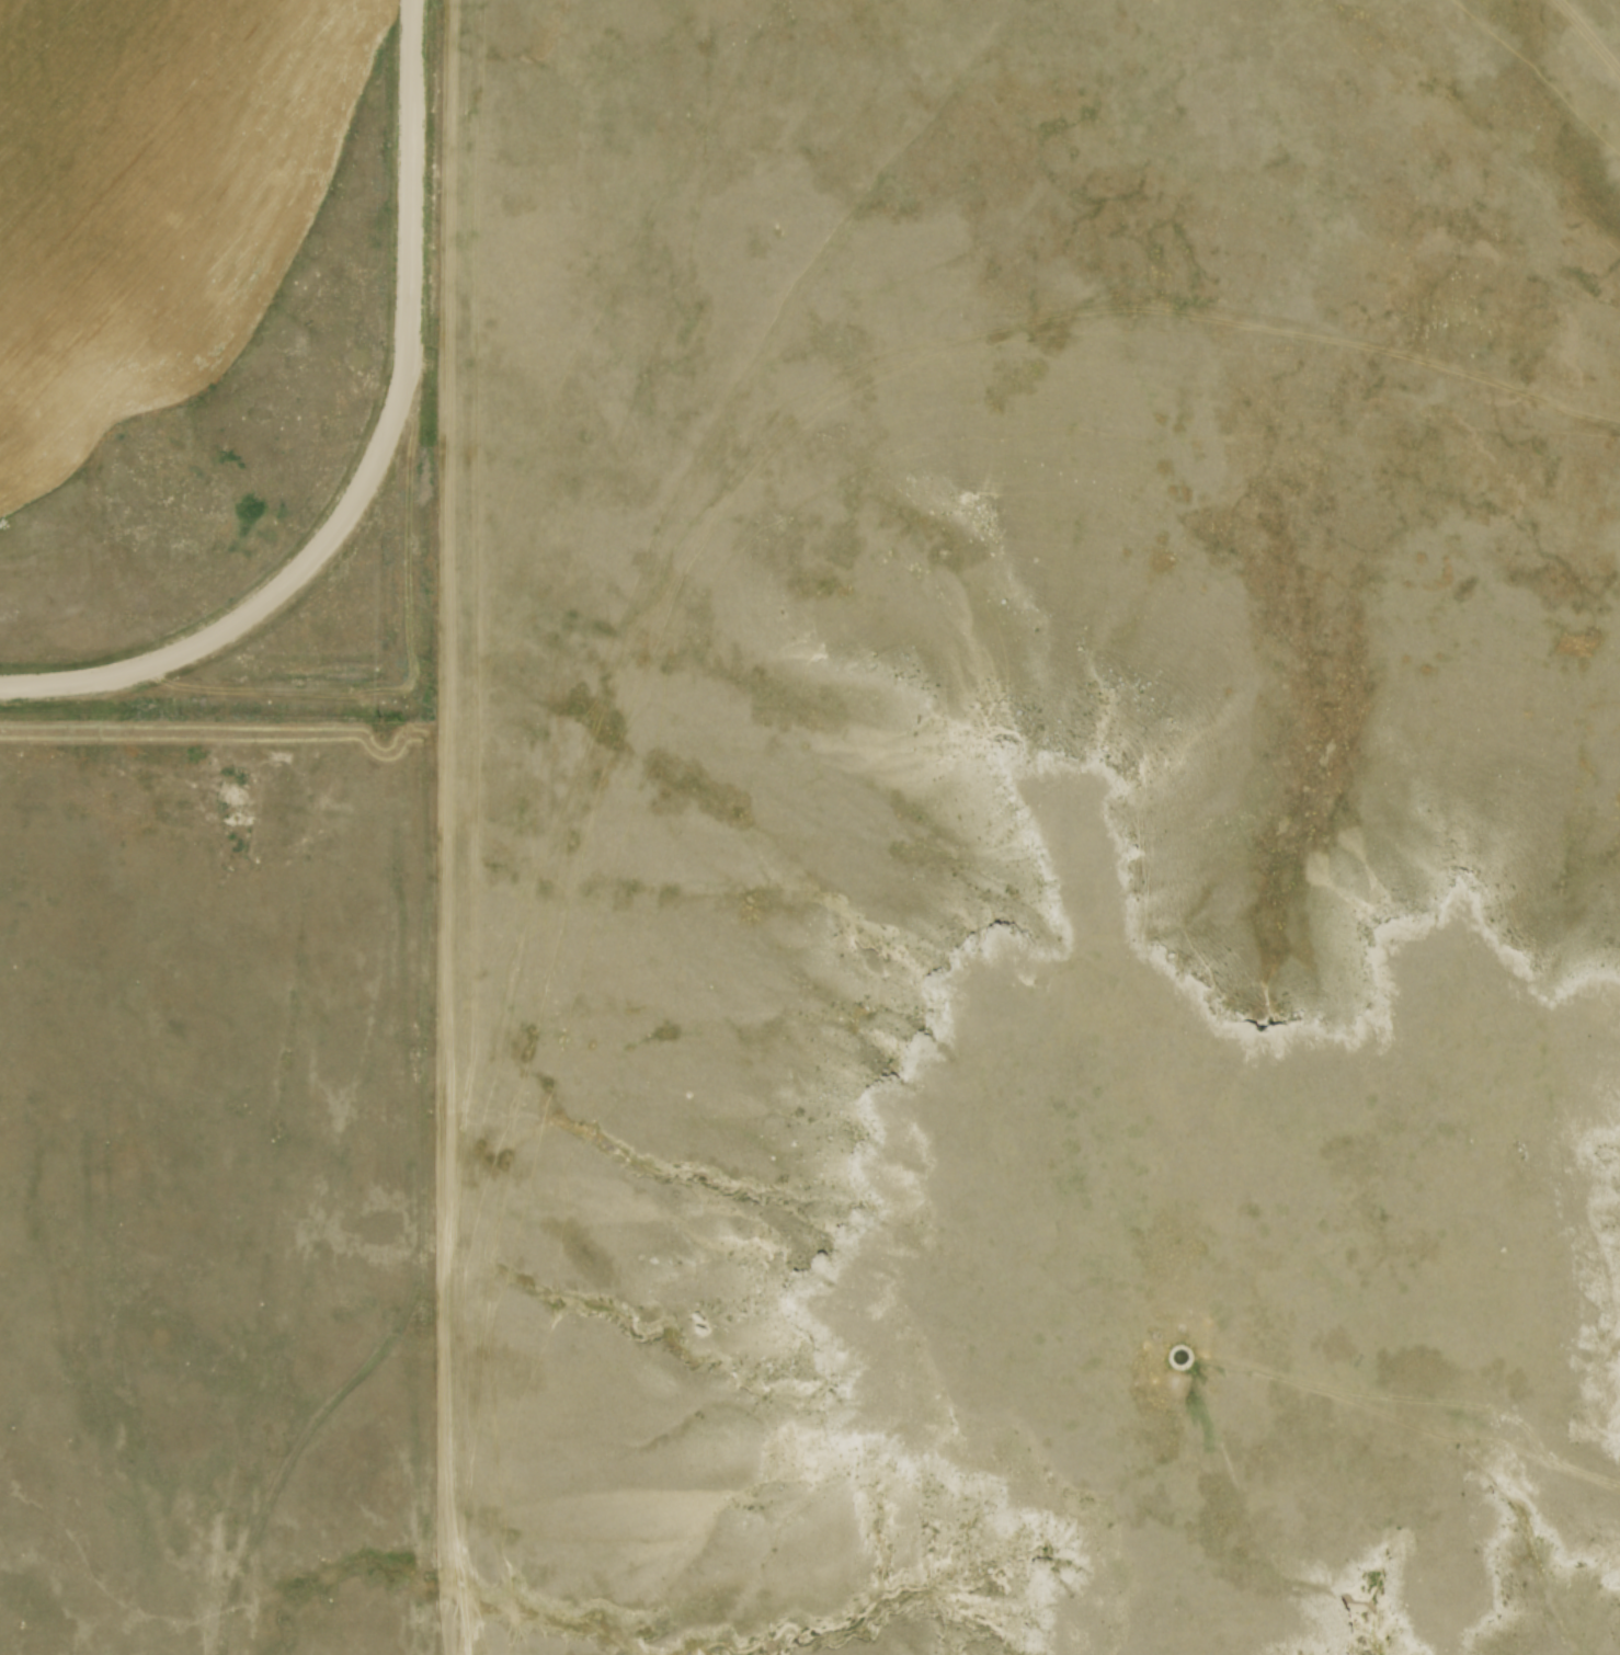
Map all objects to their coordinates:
crop: (152, 196)
road: (415, 304)
road: (160, 663)

